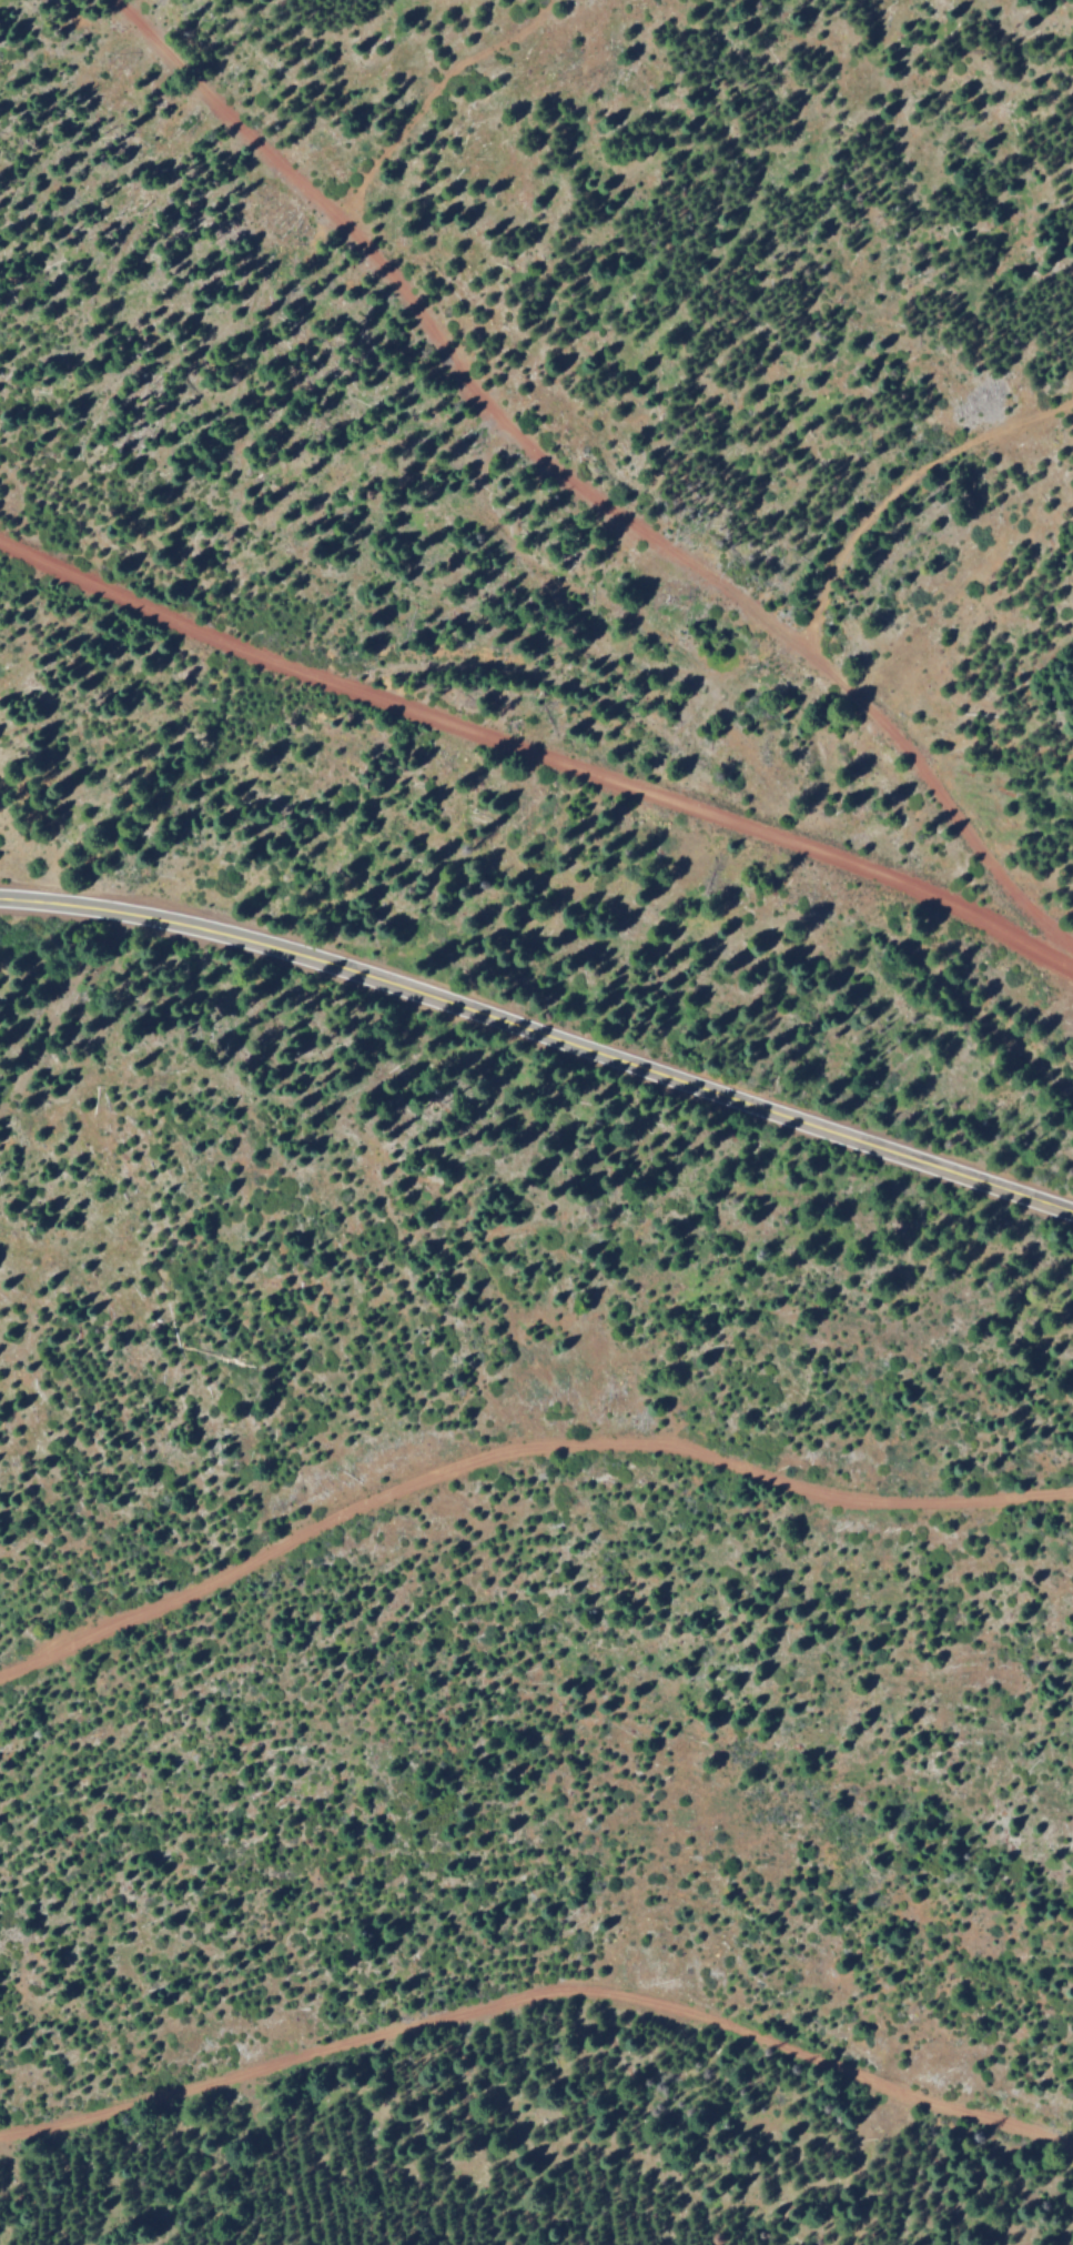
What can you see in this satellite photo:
road: (427, 95)
road: (578, 485)
road: (897, 489)
road: (163, 607)
road: (705, 805)
road: (61, 1005)
road: (541, 1030)
road: (517, 1450)
road: (541, 1995)

